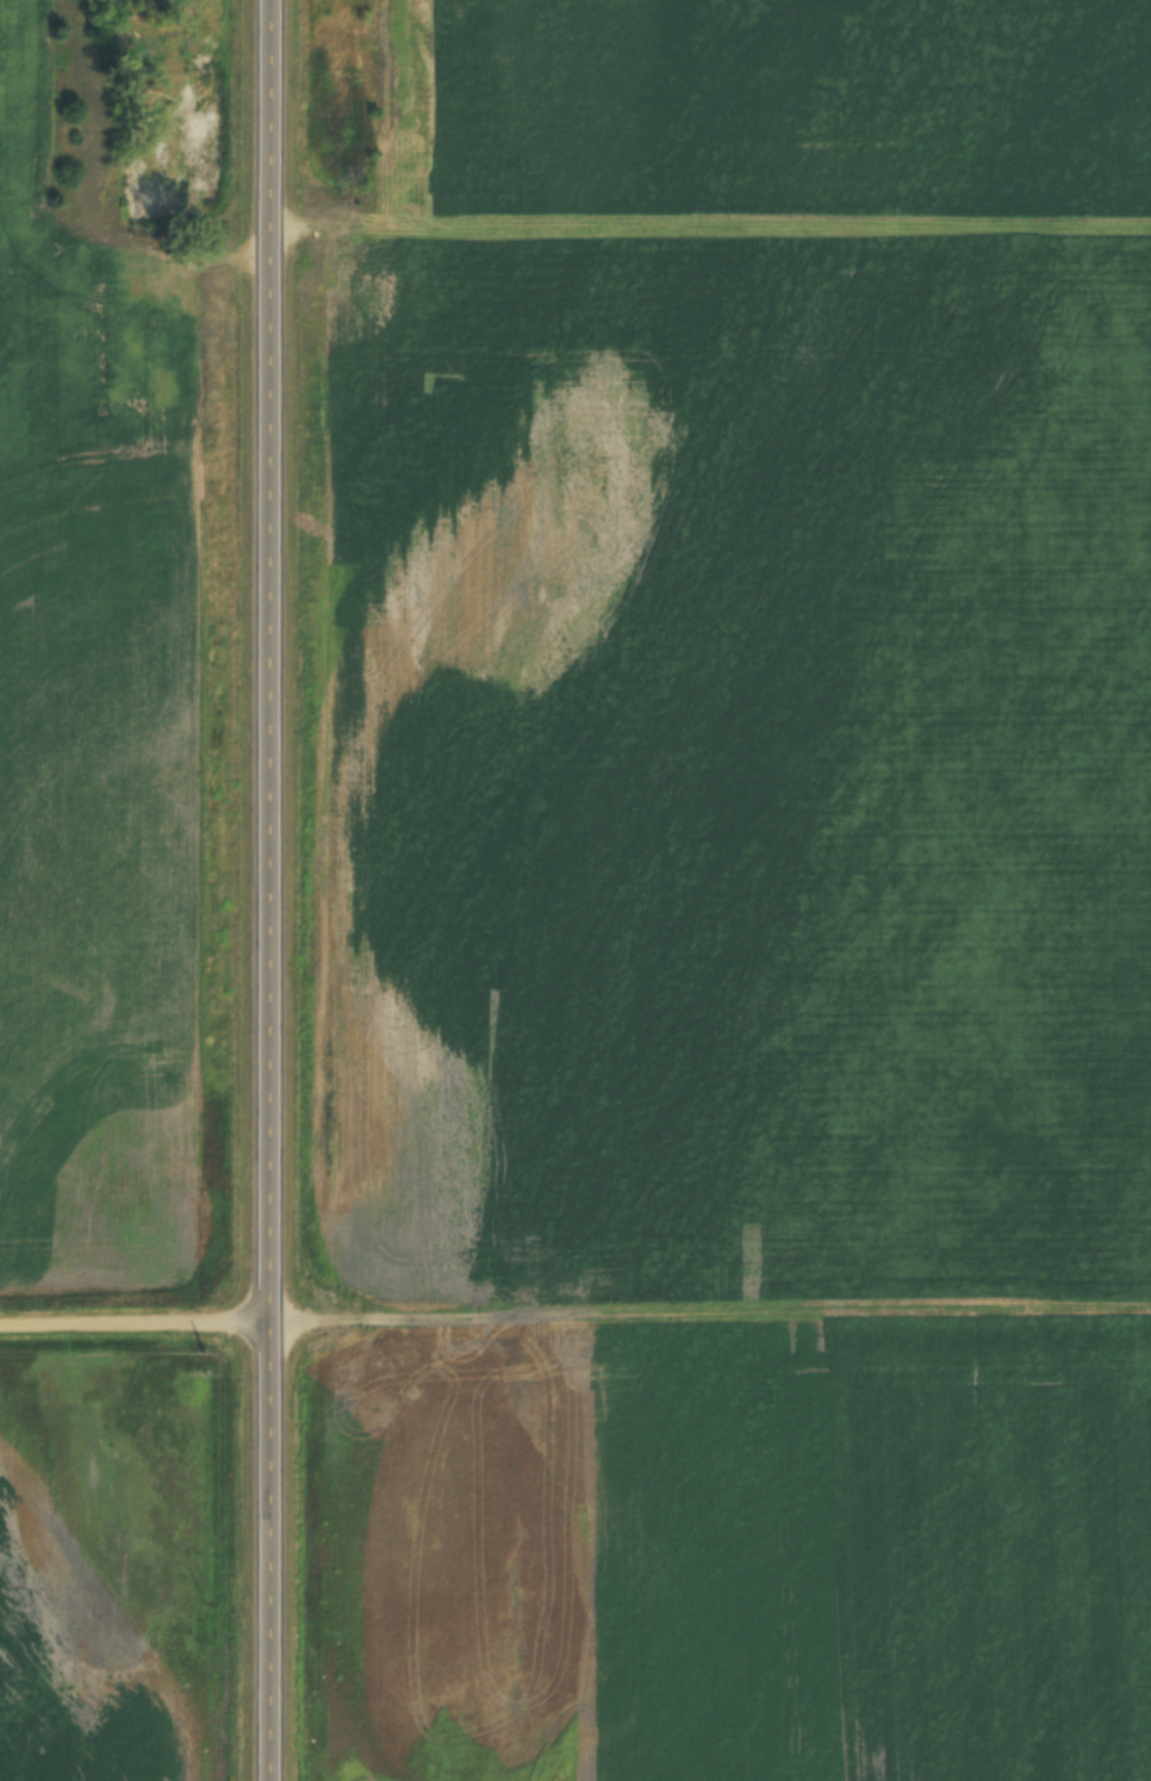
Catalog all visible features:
road: (268, 890)
road: (709, 1308)
road: (133, 1322)

